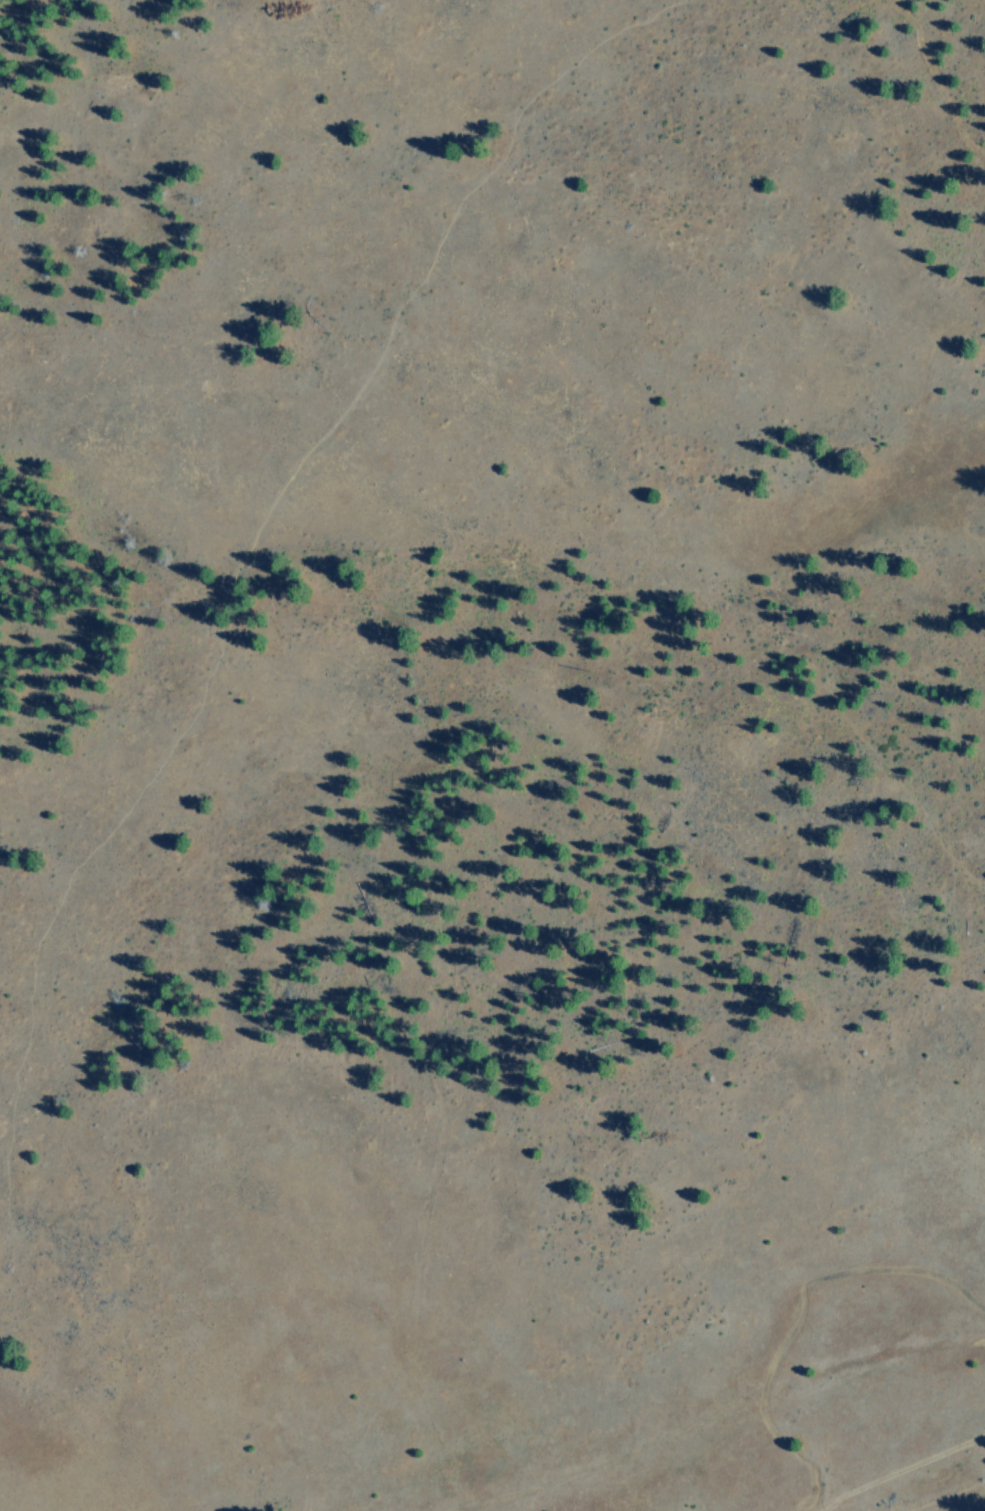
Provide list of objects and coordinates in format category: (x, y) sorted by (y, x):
road: (489, 1335)

